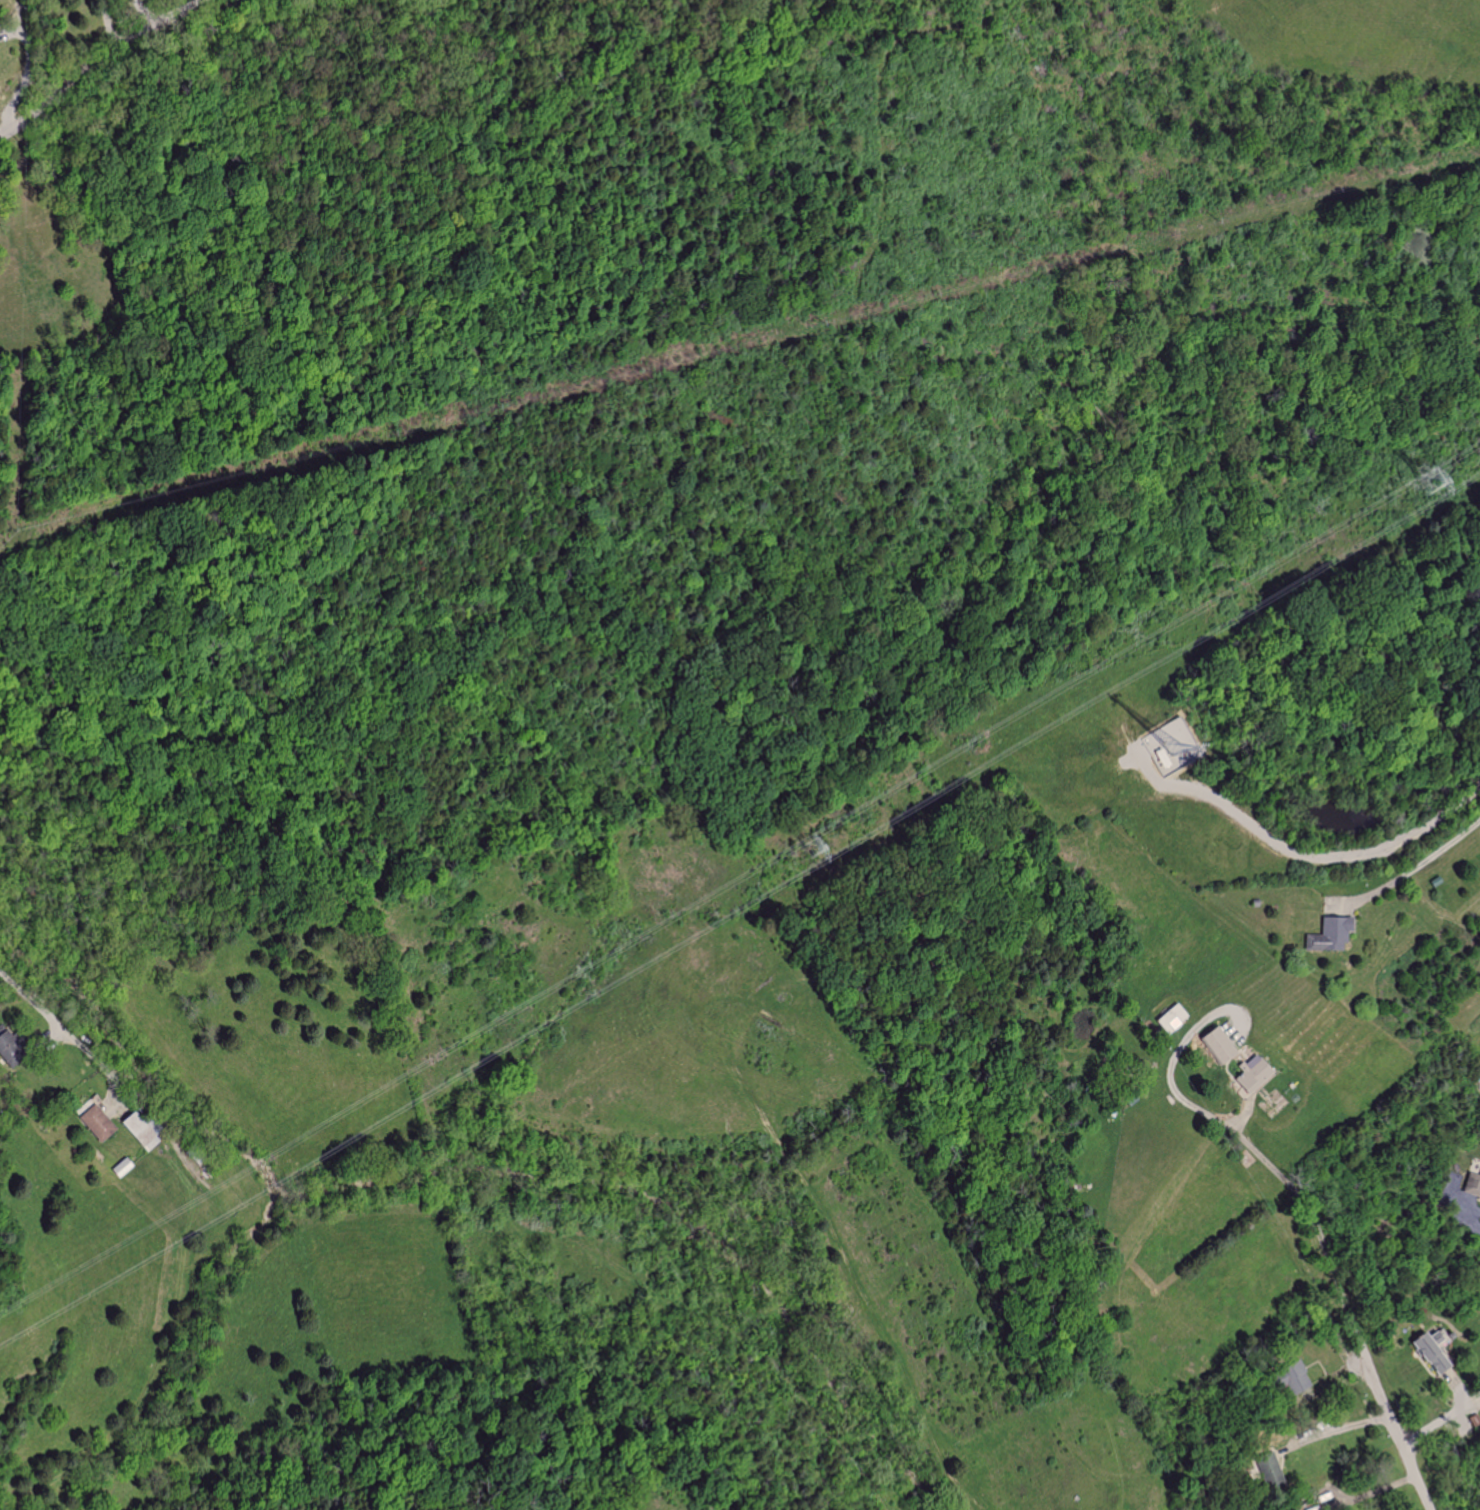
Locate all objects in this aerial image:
road: (96, 61)
power tower: (1431, 484)
power tower: (815, 846)
road: (1413, 868)
building: (1334, 934)
building: (1175, 1018)
road: (54, 1026)
building: (12, 1047)
building: (1243, 1061)
building: (99, 1122)
building: (143, 1130)
building: (125, 1167)
building: (1472, 1184)
road: (1468, 1208)
road: (1343, 1304)
building: (1428, 1350)
building: (1290, 1378)
road: (1338, 1428)
building: (1267, 1468)

